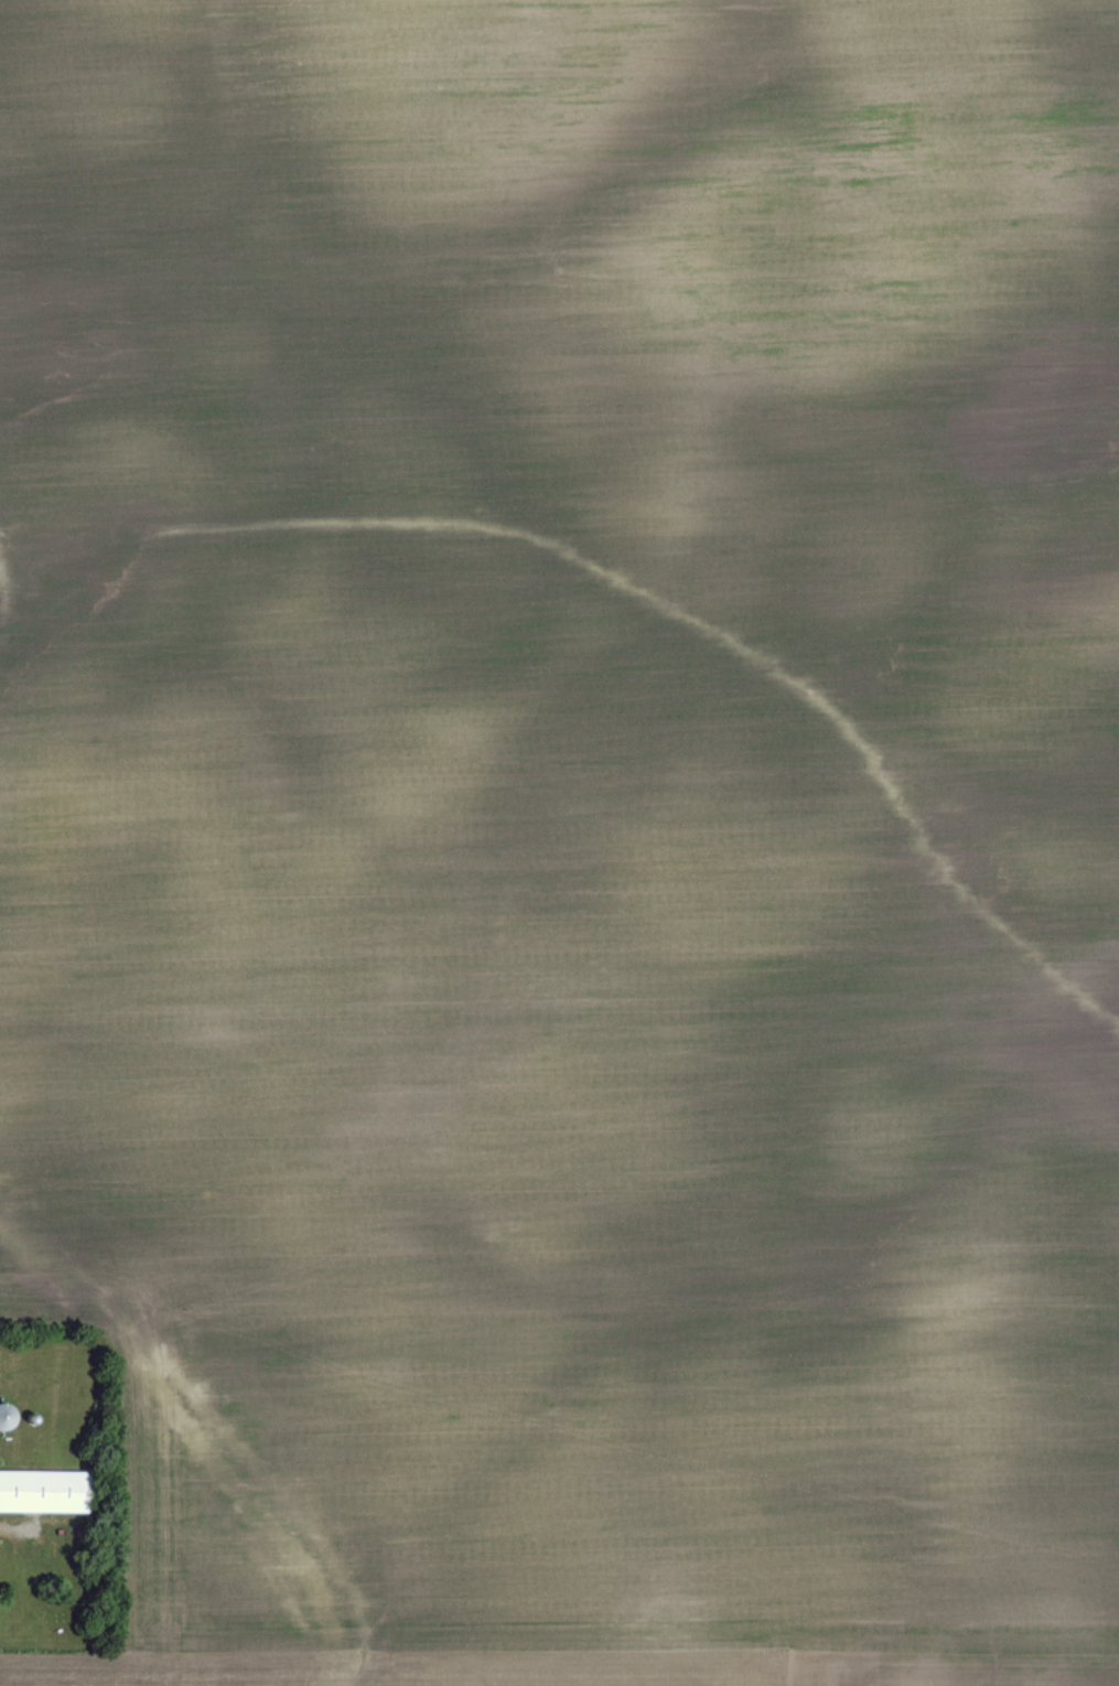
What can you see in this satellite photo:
building: (40, 1494)

